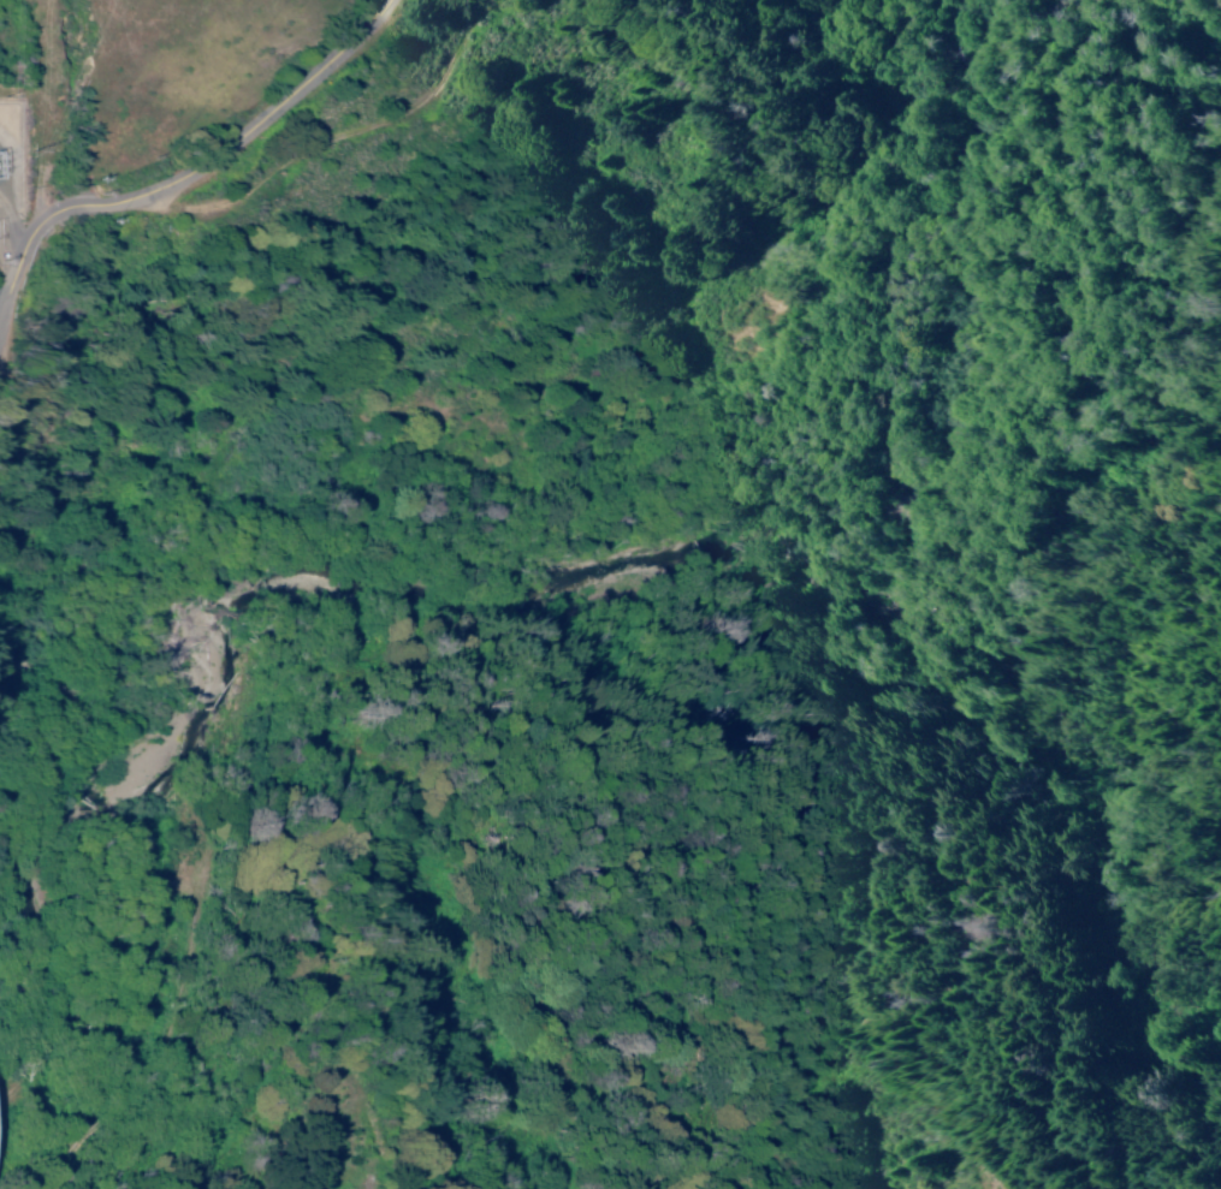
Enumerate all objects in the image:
road: (189, 172)
road: (6, 296)
road: (516, 422)

